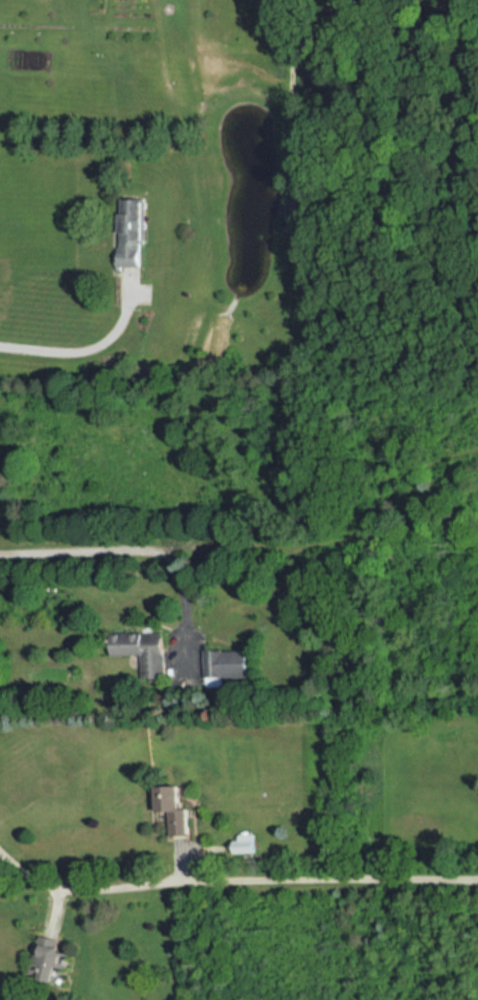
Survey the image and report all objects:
building: (126, 232)
road: (87, 343)
road: (104, 546)
building: (139, 648)
building: (225, 664)
building: (176, 810)
road: (233, 882)
building: (49, 957)

